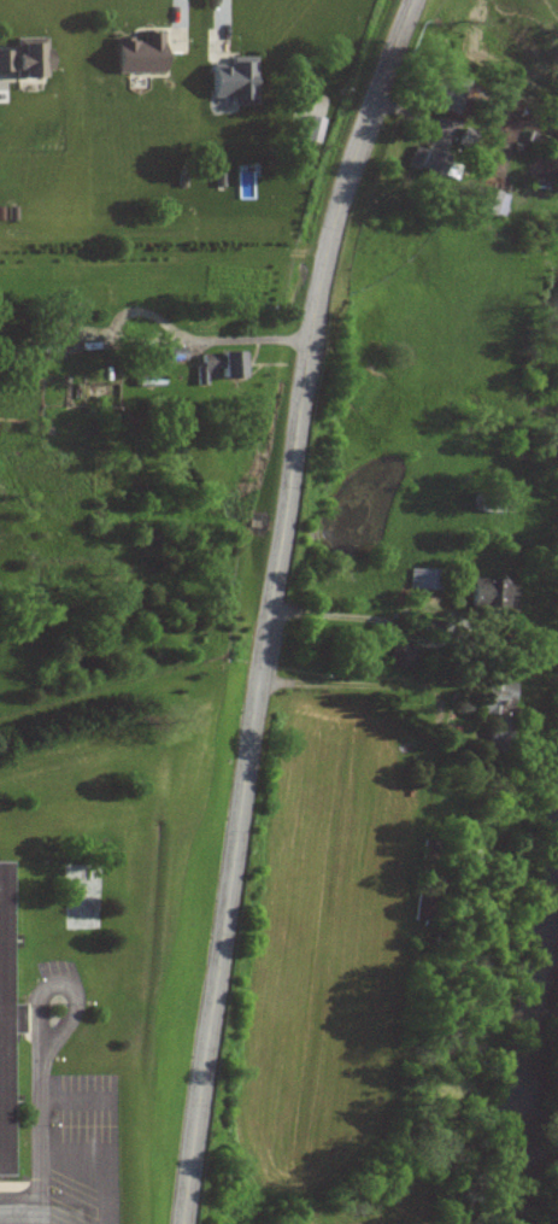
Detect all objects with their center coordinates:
building: (233, 84)
building: (446, 93)
building: (316, 129)
building: (428, 160)
building: (492, 203)
road: (188, 339)
building: (231, 365)
building: (491, 595)
road: (271, 604)
road: (404, 610)
building: (403, 656)
road: (372, 686)
building: (498, 699)
road: (65, 983)
building: (6, 1018)
river: (535, 1062)
road: (78, 1102)
road: (43, 1140)
road: (111, 1155)
road: (22, 1213)

